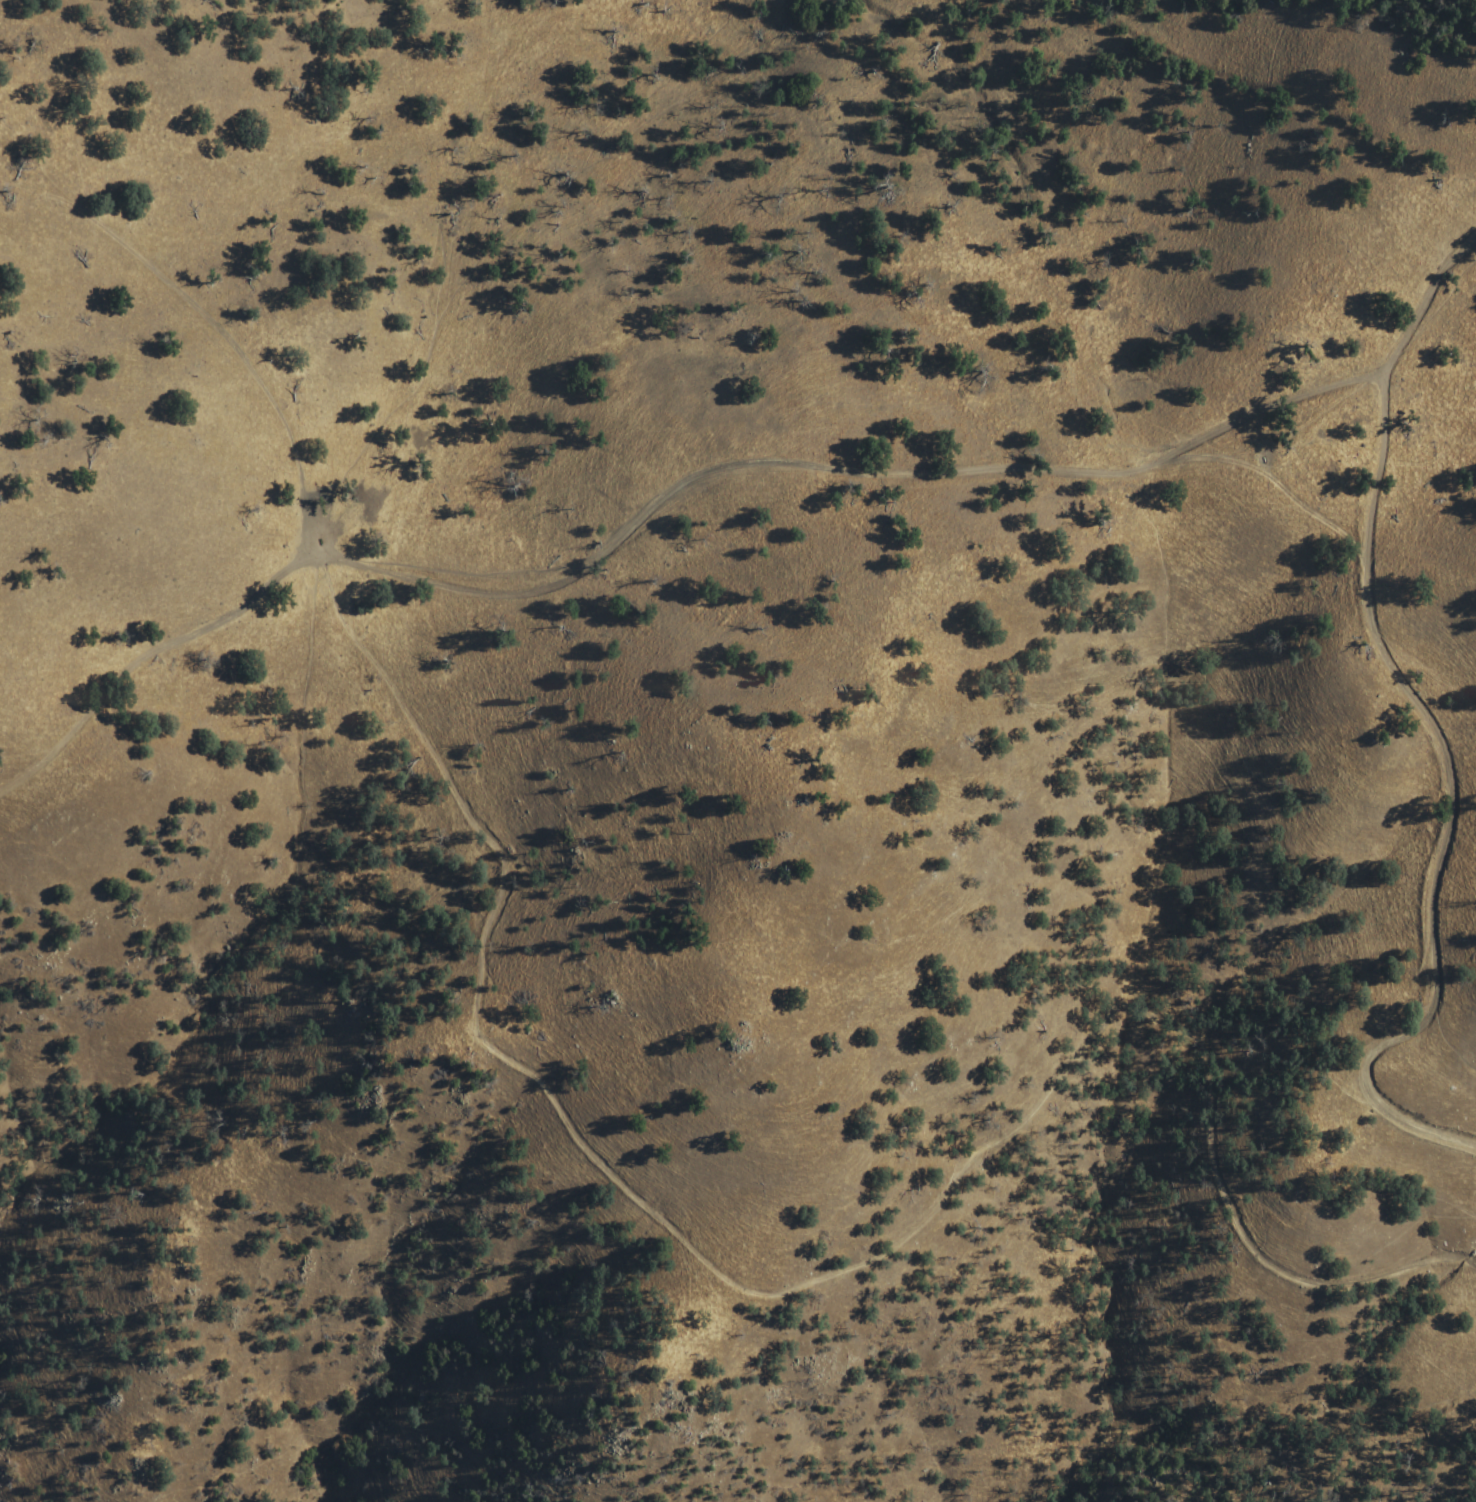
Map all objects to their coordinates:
road: (1378, 470)
road: (662, 511)
road: (1436, 986)

